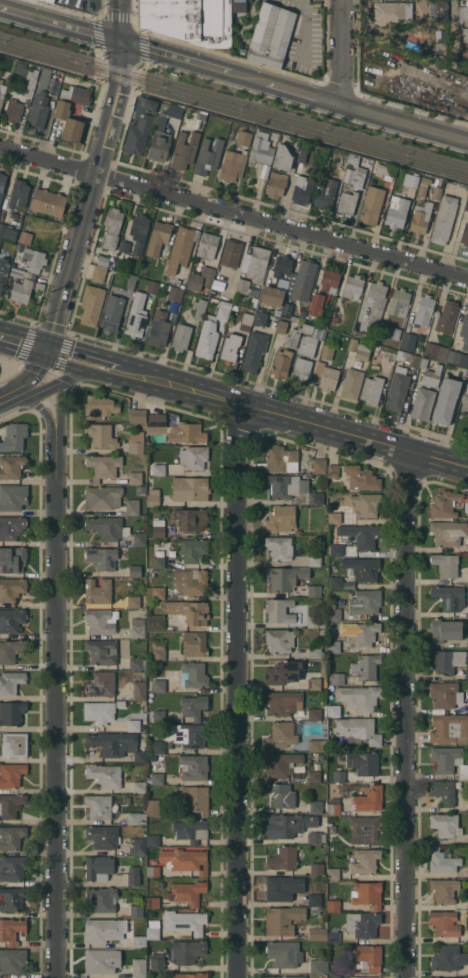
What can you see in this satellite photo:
building: (50, 0)
road: (302, 1)
building: (463, 10)
building: (438, 11)
building: (391, 12)
building: (189, 20)
road: (121, 21)
road: (60, 25)
road: (454, 27)
road: (308, 31)
building: (271, 34)
building: (464, 34)
road: (241, 36)
traffic signals: (121, 42)
road: (340, 51)
road: (230, 72)
building: (26, 76)
building: (466, 83)
building: (2, 92)
building: (76, 94)
building: (40, 101)
railway: (234, 102)
building: (149, 104)
road: (110, 108)
building: (171, 109)
building: (13, 110)
railway: (234, 111)
building: (202, 116)
building: (68, 122)
road: (404, 122)
building: (138, 135)
building: (274, 135)
building: (243, 137)
building: (158, 147)
building: (261, 148)
building: (184, 149)
building: (208, 155)
building: (302, 155)
building: (282, 157)
building: (360, 160)
building: (232, 165)
building: (386, 170)
building: (355, 176)
building: (411, 179)
building: (373, 180)
building: (2, 184)
building: (276, 184)
building: (422, 188)
building: (302, 190)
building: (325, 192)
building: (436, 192)
building: (19, 193)
building: (47, 201)
building: (347, 202)
building: (466, 203)
building: (371, 204)
building: (396, 211)
road: (233, 213)
building: (420, 217)
building: (444, 219)
building: (112, 227)
building: (7, 231)
building: (139, 232)
building: (464, 234)
building: (25, 237)
building: (158, 237)
building: (207, 245)
building: (5, 246)
building: (182, 247)
building: (124, 250)
building: (231, 252)
building: (34, 259)
building: (103, 260)
road: (71, 262)
building: (257, 263)
building: (17, 264)
building: (282, 265)
building: (134, 270)
building: (3, 271)
building: (22, 273)
building: (98, 273)
building: (201, 279)
building: (302, 280)
building: (330, 280)
building: (131, 281)
building: (39, 285)
building: (353, 285)
building: (243, 286)
building: (153, 287)
building: (21, 291)
building: (173, 293)
building: (272, 295)
building: (376, 300)
building: (254, 302)
building: (399, 302)
building: (91, 304)
building: (315, 304)
building: (199, 308)
building: (424, 309)
building: (288, 311)
building: (112, 312)
building: (136, 315)
building: (447, 317)
building: (260, 318)
building: (246, 321)
building: (282, 326)
building: (158, 328)
building: (307, 328)
building: (211, 330)
building: (464, 331)
building: (390, 332)
building: (181, 337)
building: (292, 337)
building: (408, 341)
road: (23, 342)
building: (353, 344)
building: (307, 345)
building: (230, 347)
traffic signals: (47, 349)
building: (254, 350)
building: (436, 351)
building: (327, 352)
building: (362, 352)
building: (388, 357)
building: (458, 358)
building: (423, 362)
building: (281, 363)
road: (101, 365)
building: (301, 370)
building: (432, 376)
building: (328, 378)
road: (29, 379)
road: (63, 380)
building: (401, 380)
building: (351, 383)
building: (372, 390)
road: (59, 400)
building: (446, 400)
building: (465, 401)
road: (8, 403)
building: (423, 403)
building: (99, 407)
road: (40, 408)
building: (138, 415)
building: (156, 423)
road: (312, 427)
building: (186, 432)
building: (100, 435)
building: (13, 437)
building: (136, 442)
building: (191, 457)
building: (281, 458)
building: (103, 465)
building: (319, 465)
building: (11, 466)
building: (160, 469)
building: (333, 470)
building: (135, 477)
building: (361, 477)
building: (282, 485)
building: (190, 488)
building: (13, 497)
building: (102, 497)
building: (314, 497)
building: (153, 500)
building: (365, 503)
building: (444, 504)
building: (132, 506)
building: (466, 507)
building: (334, 517)
building: (193, 518)
building: (281, 518)
building: (11, 527)
building: (107, 527)
building: (158, 527)
building: (447, 532)
building: (366, 536)
building: (139, 538)
building: (279, 547)
building: (193, 549)
building: (336, 549)
building: (102, 557)
building: (12, 559)
building: (314, 559)
building: (158, 561)
building: (446, 564)
building: (363, 568)
building: (135, 570)
building: (285, 577)
building: (190, 580)
building: (335, 581)
building: (11, 588)
building: (314, 590)
building: (97, 591)
building: (156, 592)
building: (449, 596)
building: (133, 601)
building: (365, 601)
building: (279, 610)
building: (195, 611)
building: (333, 612)
building: (11, 619)
building: (101, 620)
building: (156, 621)
building: (317, 621)
building: (137, 628)
building: (446, 629)
building: (366, 633)
building: (280, 639)
building: (467, 642)
building: (194, 643)
building: (335, 645)
building: (11, 650)
building: (158, 650)
building: (102, 651)
building: (316, 652)
building: (447, 659)
building: (137, 663)
building: (365, 665)
building: (282, 672)
building: (466, 673)
building: (193, 675)
building: (337, 678)
building: (10, 682)
building: (317, 682)
building: (100, 684)
building: (158, 685)
building: (139, 690)
road: (237, 692)
building: (445, 694)
building: (358, 696)
building: (282, 701)
road: (57, 703)
building: (120, 704)
building: (193, 705)
building: (333, 710)
building: (99, 711)
building: (12, 712)
building: (314, 714)
building: (159, 716)
road: (409, 717)
building: (136, 722)
building: (449, 728)
building: (358, 729)
building: (187, 734)
building: (282, 734)
building: (14, 744)
building: (118, 744)
building: (317, 745)
building: (158, 747)
building: (449, 760)
building: (363, 762)
building: (281, 763)
building: (193, 766)
building: (11, 774)
building: (104, 774)
building: (339, 775)
building: (314, 776)
building: (157, 778)
building: (139, 787)
building: (444, 792)
building: (282, 794)
building: (195, 798)
building: (369, 798)
building: (11, 804)
building: (98, 806)
building: (152, 806)
building: (315, 806)
building: (334, 806)
building: (133, 818)
building: (288, 824)
building: (445, 824)
building: (331, 827)
building: (365, 829)
building: (190, 830)
building: (102, 836)
building: (11, 837)
building: (316, 837)
building: (153, 840)
building: (139, 845)
building: (282, 858)
building: (185, 859)
building: (365, 860)
building: (442, 860)
building: (12, 867)
building: (98, 867)
building: (316, 868)
building: (153, 871)
building: (333, 873)
building: (134, 875)
building: (278, 888)
building: (443, 890)
building: (187, 892)
building: (367, 893)
building: (12, 898)
building: (102, 898)
building: (314, 899)
building: (153, 901)
building: (467, 903)
building: (334, 905)
building: (136, 910)
building: (282, 919)
building: (185, 921)
building: (446, 923)
building: (363, 924)
building: (104, 929)
building: (153, 929)
building: (11, 930)
building: (316, 931)
building: (333, 937)
building: (139, 940)
building: (187, 951)
building: (284, 953)
building: (367, 957)
building: (448, 957)
building: (12, 960)
building: (100, 960)
building: (157, 961)
building: (318, 966)
building: (139, 968)
building: (186, 975)
building: (286, 976)
building: (368, 977)
building: (447, 977)

